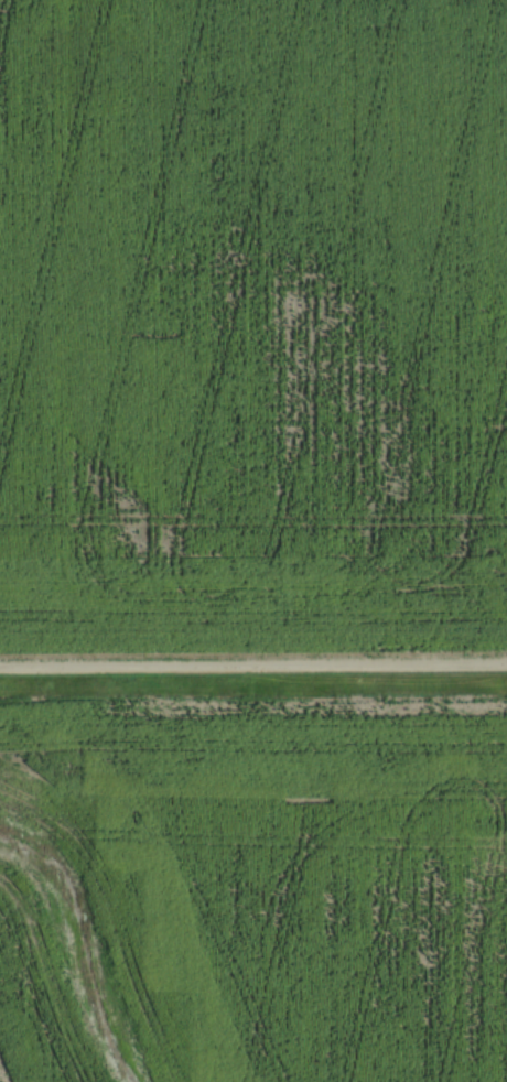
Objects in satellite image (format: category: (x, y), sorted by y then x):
road: (253, 672)

